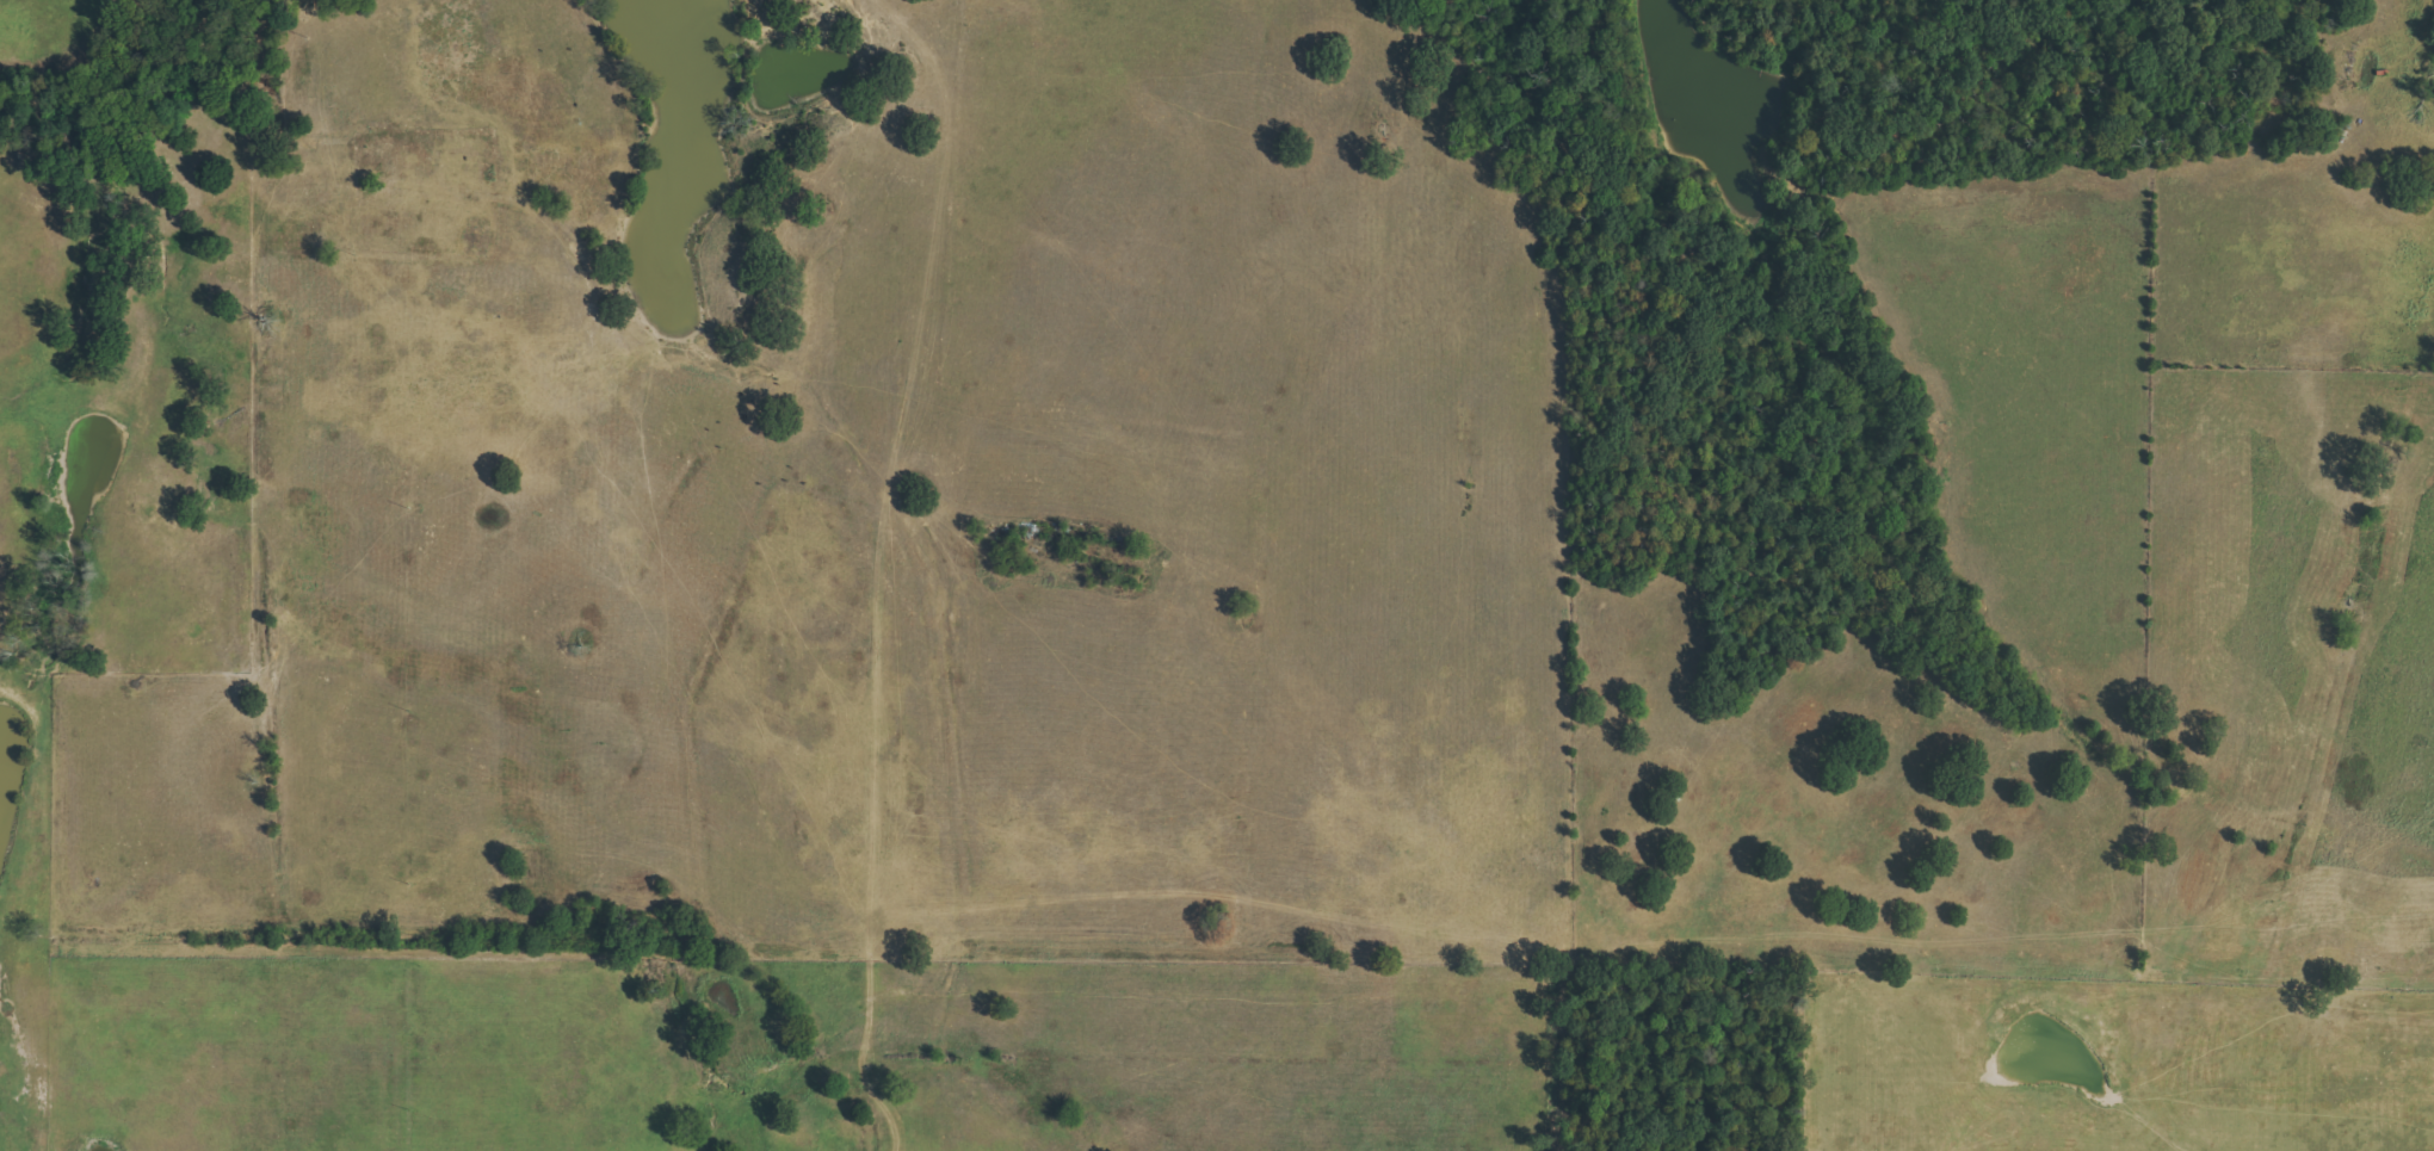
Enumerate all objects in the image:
road: (261, 62)

